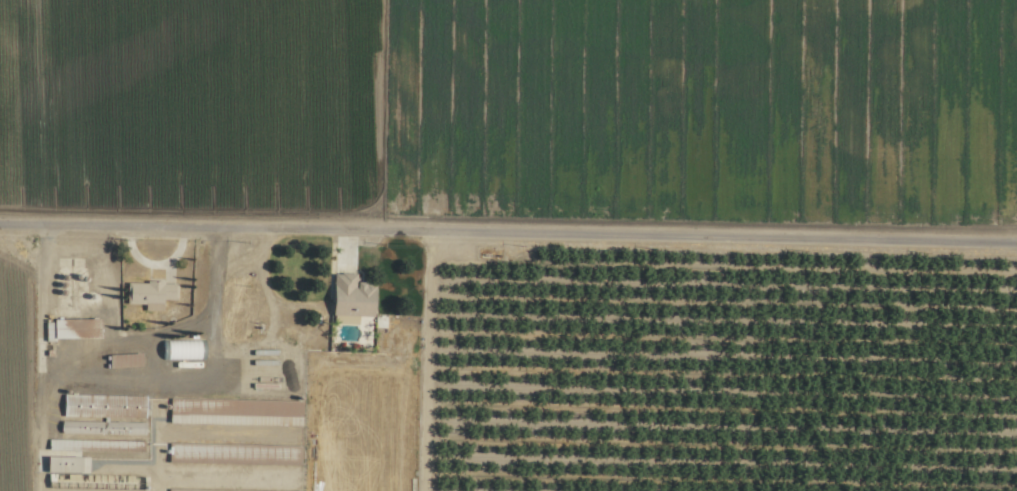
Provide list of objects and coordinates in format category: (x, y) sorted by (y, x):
road: (508, 249)
building: (146, 294)
building: (346, 295)
road: (38, 368)
building: (236, 411)
building: (64, 464)

